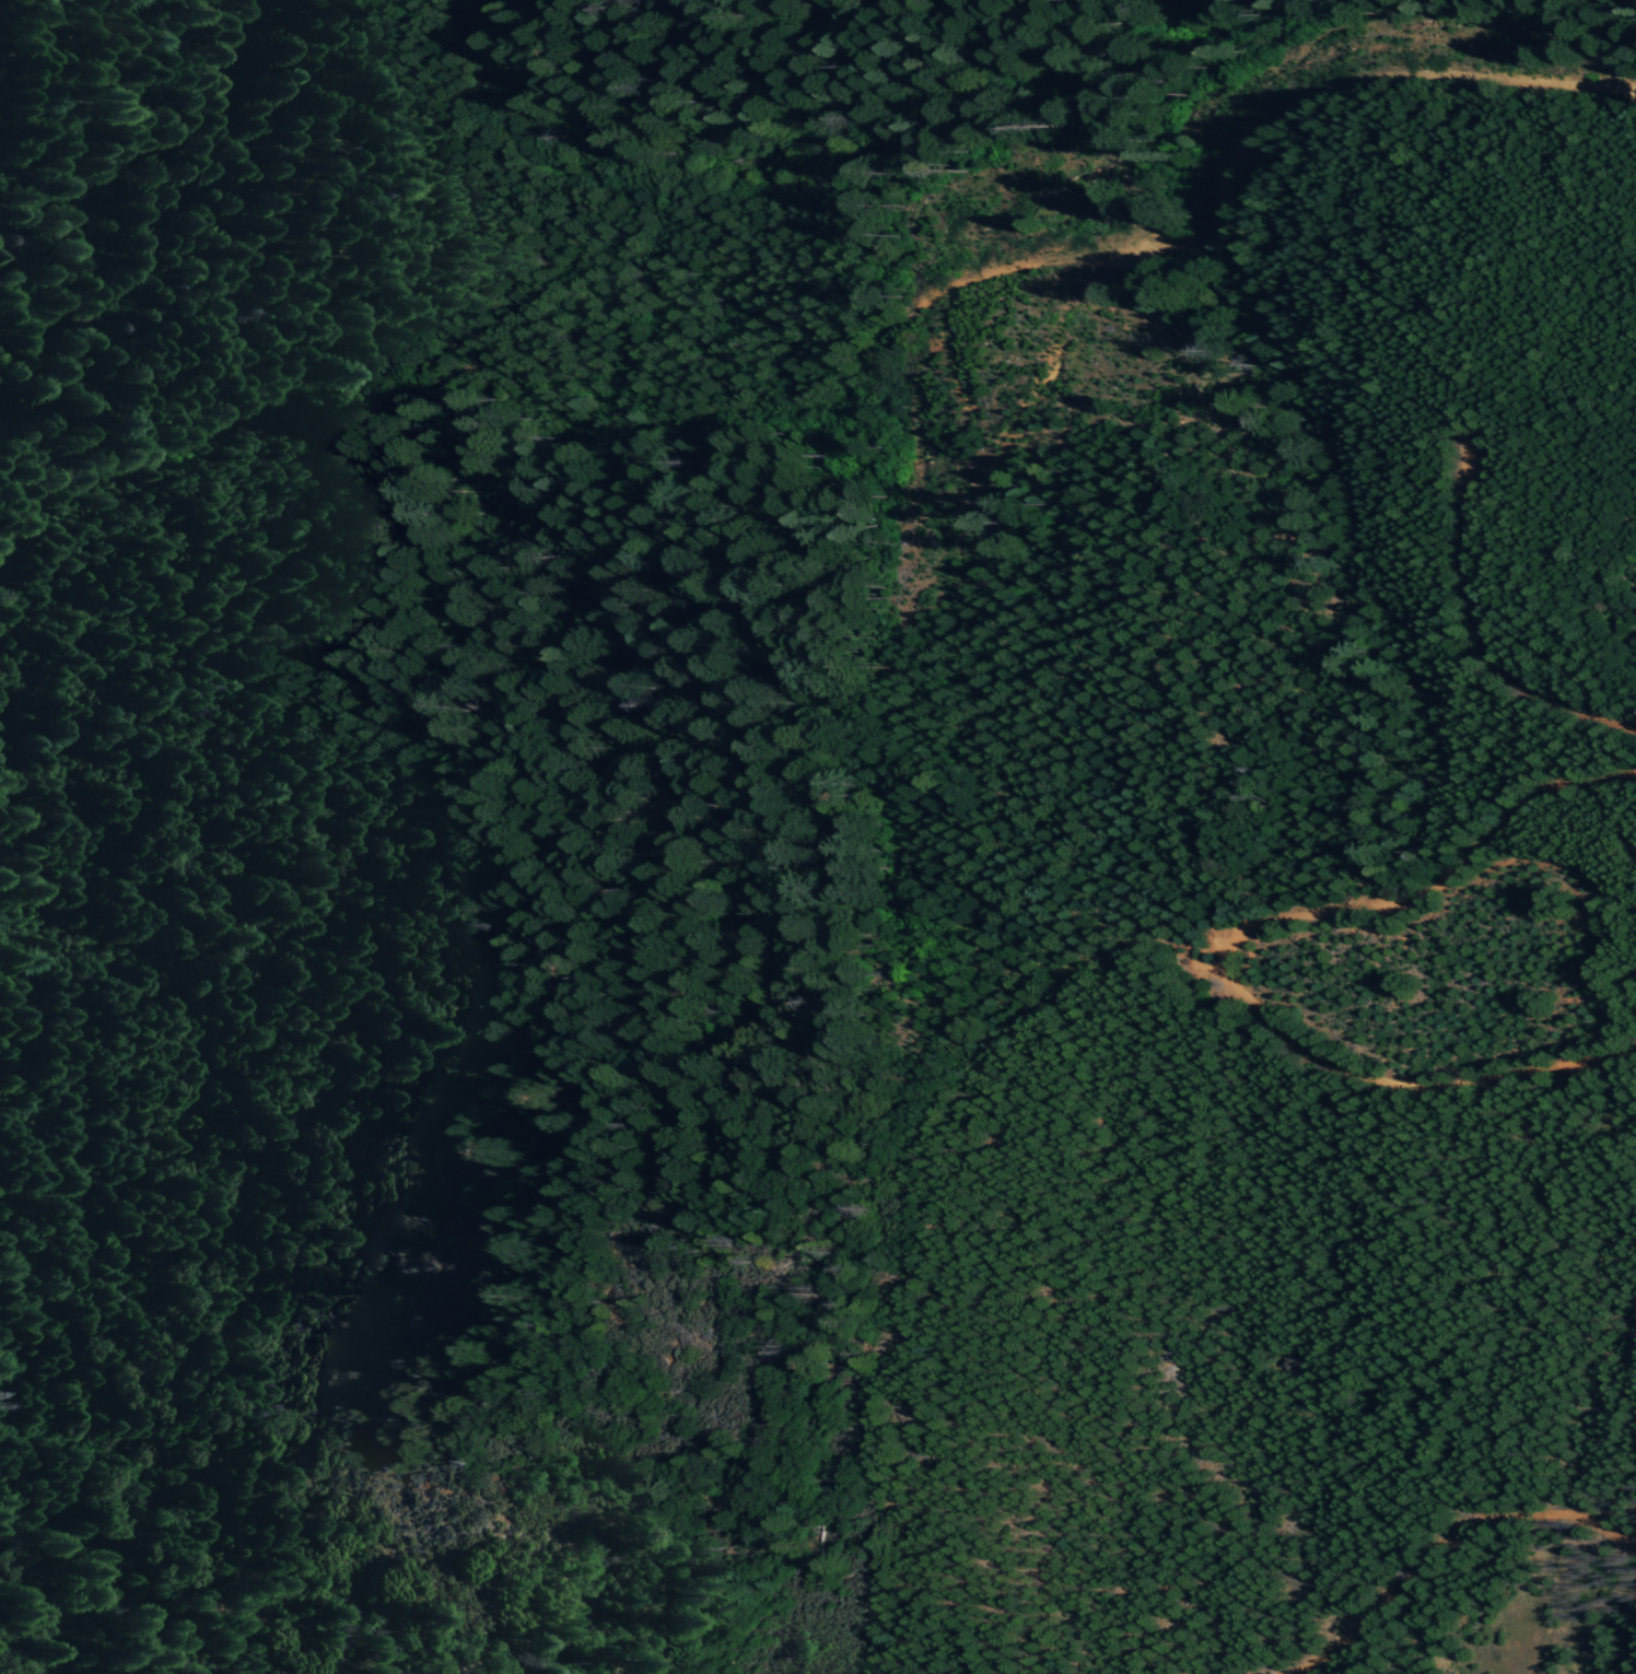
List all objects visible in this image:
road: (837, 381)
road: (33, 922)
road: (1207, 945)

